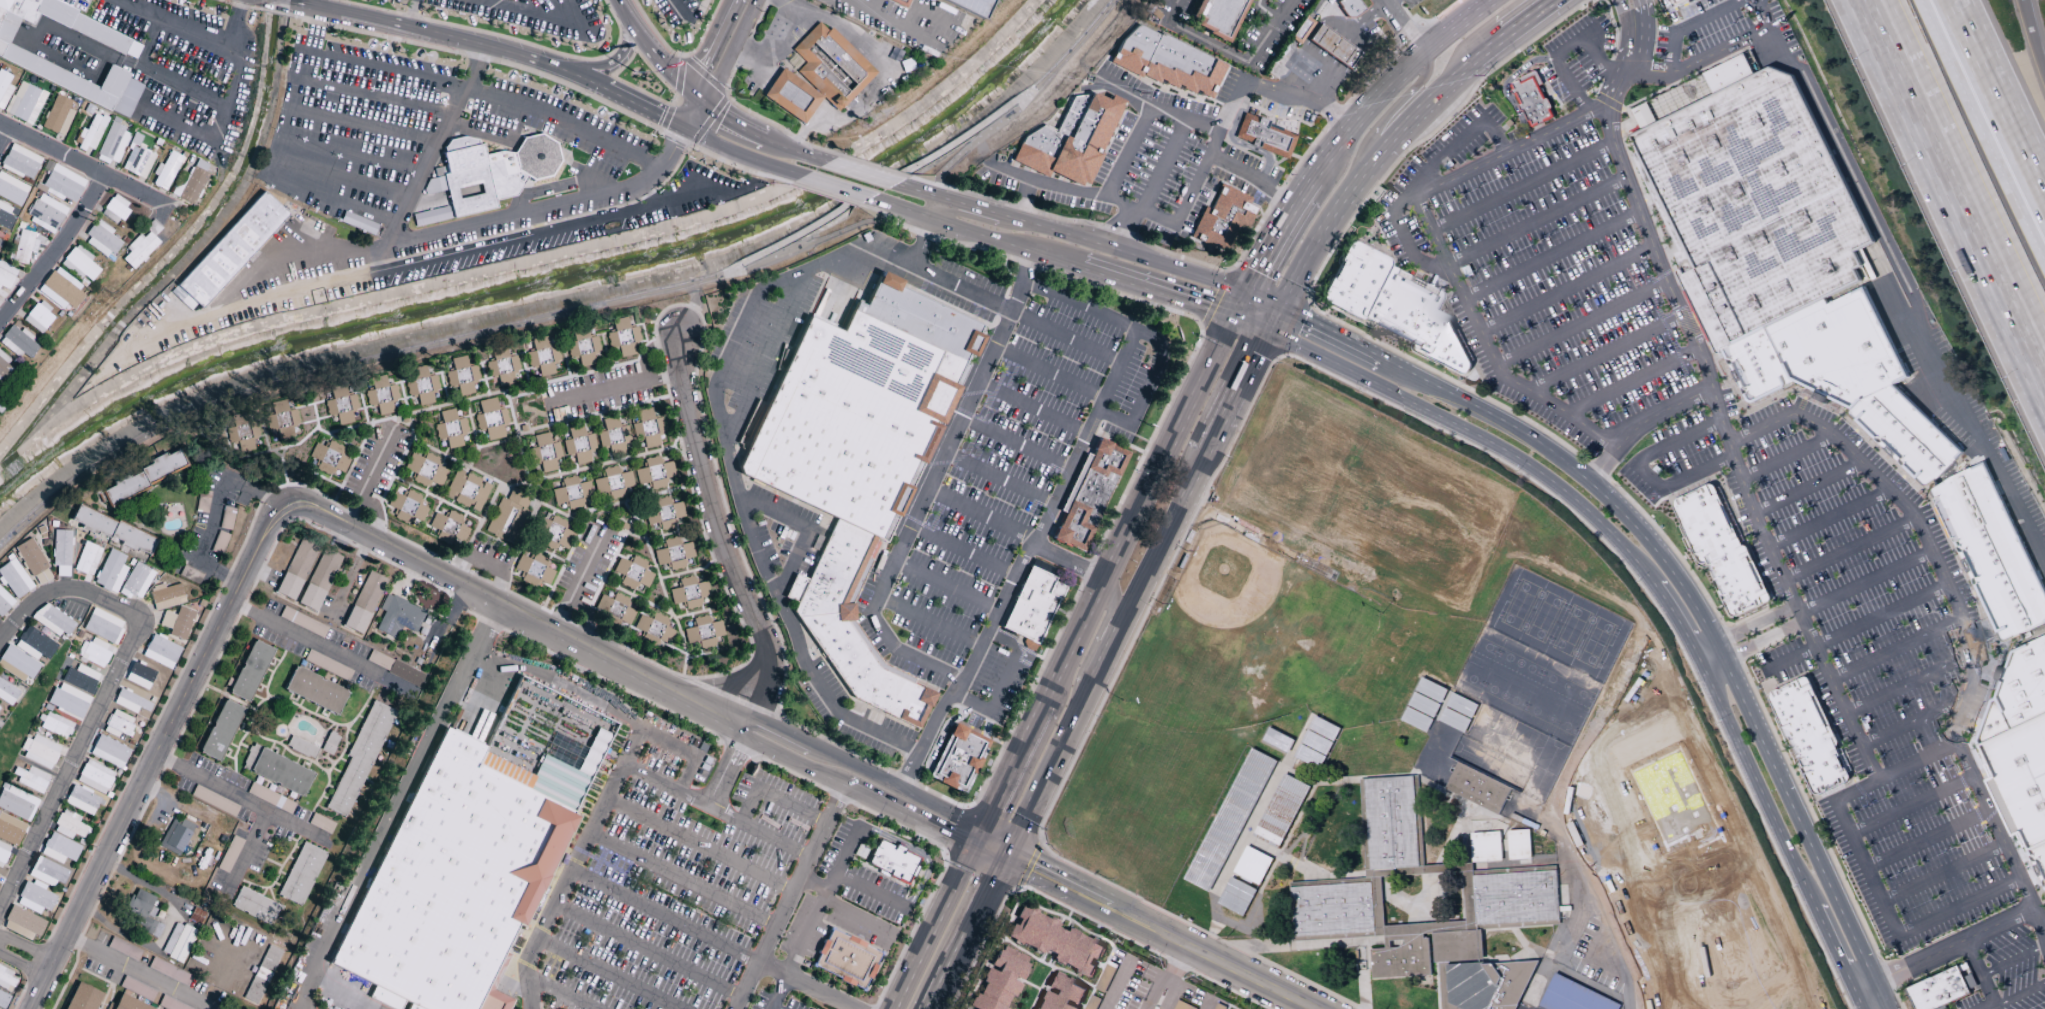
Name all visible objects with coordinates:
road: (286, 0)
road: (61, 1)
building: (1675, 1)
road: (787, 2)
building: (900, 2)
road: (1491, 2)
road: (1385, 3)
road: (317, 4)
building: (7, 6)
road: (536, 6)
road: (674, 6)
building: (980, 7)
building: (25, 8)
road: (1758, 8)
parking lot: (1177, 9)
building: (1350, 10)
road: (1266, 11)
road: (1443, 11)
road: (56, 12)
building: (57, 12)
road: (1669, 14)
road: (412, 15)
building: (1218, 17)
road: (1532, 17)
road: (1364, 22)
road: (50, 23)
road: (1685, 24)
building: (0, 25)
road: (182, 25)
parking lot: (1716, 25)
road: (1455, 29)
road: (1405, 30)
building: (1303, 32)
parking lot: (1269, 34)
building: (101, 35)
road: (1626, 35)
road: (72, 37)
road: (449, 38)
road: (1642, 39)
road: (2034, 39)
road: (151, 41)
road: (858, 44)
road: (1493, 47)
building: (1334, 48)
gas station: (1334, 48)
building: (2, 49)
road: (722, 50)
building: (1136, 52)
road: (744, 53)
road: (1341, 53)
road: (1228, 54)
road: (650, 56)
road: (1697, 61)
road: (591, 66)
building: (830, 66)
building: (1184, 69)
building: (62, 71)
road: (1461, 73)
flagpole: (633, 75)
road: (1506, 86)
building: (4, 88)
road: (608, 91)
road: (2002, 93)
road: (497, 95)
road: (375, 96)
building: (791, 97)
building: (1532, 97)
road: (1299, 98)
building: (25, 103)
road: (722, 103)
road: (1396, 105)
road: (1155, 108)
road: (648, 110)
road: (691, 114)
road: (1415, 115)
building: (1642, 115)
building: (58, 116)
road: (1362, 116)
road: (222, 118)
road: (732, 119)
traffic signals: (684, 128)
road: (372, 130)
road: (1982, 132)
building: (91, 133)
road: (3, 135)
road: (793, 137)
building: (1266, 138)
road: (677, 139)
parking lot: (348, 140)
building: (1072, 142)
road: (434, 143)
road: (970, 144)
building: (113, 145)
road: (797, 150)
road: (744, 151)
road: (1128, 152)
road: (347, 156)
building: (540, 157)
building: (465, 158)
road: (1967, 158)
building: (137, 159)
building: (20, 163)
road: (873, 166)
road: (1163, 166)
road: (83, 167)
building: (166, 171)
building: (440, 171)
road: (891, 172)
building: (506, 174)
road: (864, 174)
road: (339, 177)
road: (910, 177)
road: (1253, 179)
road: (1416, 181)
building: (192, 182)
building: (62, 184)
road: (1194, 184)
road: (1522, 185)
building: (435, 186)
road: (1045, 186)
road: (881, 187)
road: (841, 188)
building: (12, 190)
road: (1307, 190)
building: (471, 191)
road: (1414, 192)
road: (1423, 192)
road: (649, 193)
road: (927, 194)
road: (1951, 194)
road: (827, 196)
road: (978, 197)
road: (839, 199)
building: (1758, 200)
road: (1023, 201)
road: (848, 202)
road: (1297, 205)
road: (861, 206)
road: (977, 208)
road: (905, 209)
building: (115, 210)
building: (45, 213)
building: (6, 216)
building: (432, 216)
road: (1537, 220)
building: (1225, 221)
building: (358, 223)
road: (1329, 223)
road: (951, 224)
road: (461, 227)
road: (1121, 228)
road: (534, 236)
building: (101, 240)
building: (0, 241)
road: (815, 242)
road: (958, 242)
road: (923, 243)
building: (24, 248)
road: (1024, 248)
building: (140, 250)
building: (233, 250)
road: (1123, 252)
road: (54, 253)
road: (1268, 253)
road: (1552, 254)
building: (79, 264)
parking lot: (1563, 274)
building: (6, 276)
road: (1566, 289)
building: (61, 290)
road: (1156, 292)
traffic signals: (1247, 293)
road: (1909, 293)
building: (183, 298)
road: (1262, 299)
building: (1394, 304)
road: (1079, 305)
road: (1240, 305)
traffic signals: (1278, 306)
road: (693, 307)
building: (1706, 309)
road: (577, 310)
road: (1271, 317)
building: (38, 318)
traffic signals: (1234, 318)
road: (1249, 323)
road: (1581, 323)
traffic signals: (1265, 329)
road: (1331, 333)
building: (622, 338)
road: (1065, 339)
building: (927, 341)
building: (18, 343)
building: (1841, 348)
building: (585, 349)
road: (681, 351)
road: (1605, 352)
building: (542, 357)
road: (767, 358)
building: (4, 364)
building: (1758, 365)
building: (501, 369)
road: (1049, 374)
building: (461, 376)
road: (1242, 376)
road: (1631, 380)
building: (419, 387)
road: (614, 389)
road: (1146, 391)
building: (381, 396)
building: (340, 406)
road: (1032, 409)
road: (718, 419)
building: (490, 420)
building: (281, 422)
road: (1640, 423)
building: (847, 425)
building: (450, 429)
building: (647, 429)
road: (1724, 429)
building: (1906, 433)
building: (241, 435)
road: (1474, 435)
building: (613, 437)
road: (1212, 440)
building: (579, 445)
road: (1015, 445)
building: (544, 453)
road: (1786, 456)
building: (328, 458)
road: (1640, 469)
building: (425, 470)
building: (655, 473)
road: (370, 475)
building: (142, 479)
road: (999, 481)
building: (614, 485)
road: (929, 487)
road: (1806, 487)
building: (466, 491)
building: (572, 493)
building: (1090, 495)
road: (218, 503)
park: (1384, 506)
building: (407, 507)
road: (1138, 510)
building: (664, 513)
road: (981, 516)
building: (508, 517)
road: (1827, 517)
building: (226, 518)
building: (91, 521)
building: (447, 528)
road: (805, 531)
road: (1165, 533)
building: (554, 535)
building: (132, 539)
road: (1848, 548)
building: (1721, 549)
building: (1991, 551)
building: (61, 552)
road: (962, 552)
building: (673, 554)
road: (724, 555)
building: (87, 559)
building: (33, 563)
road: (1067, 563)
road: (1018, 567)
building: (325, 568)
building: (534, 568)
building: (296, 570)
building: (111, 572)
building: (632, 573)
building: (190, 574)
road: (226, 576)
road: (581, 578)
building: (14, 579)
building: (136, 581)
road: (1864, 581)
road: (946, 588)
building: (689, 593)
building: (166, 596)
building: (310, 598)
building: (4, 602)
parking lot: (1867, 602)
road: (36, 603)
building: (363, 603)
building: (1035, 605)
building: (613, 607)
building: (398, 617)
road: (1674, 617)
building: (52, 620)
road: (1961, 620)
building: (177, 623)
road: (929, 623)
road: (487, 624)
park: (1557, 624)
building: (650, 625)
road: (1703, 625)
building: (103, 626)
road: (1854, 626)
road: (1743, 627)
building: (852, 628)
road: (1117, 629)
building: (703, 632)
building: (665, 636)
park: (1240, 639)
road: (582, 643)
road: (1751, 644)
building: (34, 645)
road: (318, 645)
road: (1895, 650)
building: (160, 652)
building: (94, 653)
building: (16, 665)
road: (515, 667)
building: (396, 669)
building: (250, 671)
building: (80, 679)
road: (728, 679)
road: (1002, 684)
road: (1907, 684)
building: (2021, 684)
park: (1526, 686)
building: (1432, 690)
building: (315, 691)
building: (7, 693)
road: (615, 697)
building: (68, 701)
building: (130, 702)
building: (1424, 704)
building: (1462, 705)
building: (1417, 719)
building: (1455, 720)
road: (1913, 721)
building: (118, 724)
building: (1990, 724)
building: (56, 726)
building: (1324, 727)
building: (220, 730)
building: (1810, 734)
building: (1278, 739)
road: (83, 740)
building: (1317, 741)
road: (729, 746)
park: (1519, 748)
building: (40, 752)
building: (109, 752)
road: (1056, 752)
building: (1309, 755)
building: (359, 760)
building: (960, 760)
road: (151, 763)
park: (1490, 763)
building: (276, 771)
road: (1009, 772)
building: (95, 777)
road: (1398, 777)
building: (2021, 777)
building: (31, 779)
road: (1753, 779)
road: (667, 781)
building: (1477, 788)
building: (82, 800)
road: (242, 801)
park: (1141, 801)
building: (17, 803)
road: (1910, 804)
road: (723, 809)
building: (1281, 810)
building: (1230, 819)
building: (1523, 820)
road: (935, 821)
building: (1392, 822)
building: (68, 825)
building: (10, 830)
road: (1248, 831)
road: (1303, 833)
building: (175, 836)
road: (1926, 838)
building: (1328, 839)
parking lot: (1926, 839)
traffic signals: (975, 841)
building: (1519, 843)
road: (700, 845)
building: (1486, 846)
road: (990, 848)
building: (59, 849)
road: (1266, 849)
road: (917, 853)
building: (3, 854)
road: (1442, 855)
traffic signals: (1005, 856)
road: (843, 858)
building: (2039, 860)
road: (601, 861)
building: (893, 862)
building: (1253, 864)
road: (1865, 866)
road: (1270, 868)
building: (47, 872)
road: (1386, 872)
road: (1942, 873)
building: (301, 874)
track: (1673, 877)
park: (1674, 879)
road: (683, 881)
building: (454, 887)
road: (871, 891)
road: (792, 893)
building: (1236, 896)
road: (1394, 896)
building: (1516, 897)
building: (34, 898)
building: (255, 906)
building: (1333, 908)
building: (141, 913)
building: (195, 916)
road: (856, 919)
road: (814, 920)
road: (2042, 923)
building: (22, 924)
road: (166, 925)
road: (933, 925)
road: (1383, 930)
road: (1159, 931)
road: (966, 932)
road: (713, 939)
building: (1056, 939)
road: (1522, 942)
building: (1458, 945)
road: (1186, 947)
road: (1942, 948)
road: (1832, 949)
road: (650, 950)
building: (1401, 956)
road: (24, 957)
road: (1435, 959)
building: (846, 960)
road: (2012, 960)
road: (1049, 965)
building: (169, 972)
road: (137, 973)
road: (608, 973)
road: (1977, 973)
building: (263, 975)
road: (1074, 976)
building: (6, 980)
building: (1003, 983)
building: (1484, 983)
road: (1116, 985)
building: (1943, 988)
road: (347, 990)
road: (1362, 990)
road: (780, 993)
building: (1061, 993)
road: (559, 995)
road: (2016, 995)
building: (1573, 996)
building: (80, 997)
road: (1626, 999)
building: (3, 1000)
road: (1856, 1000)
building: (1091, 1002)
road: (1204, 1002)
building: (127, 1004)
road: (1145, 1005)
building: (1181, 1005)
building: (1218, 1006)
parking lot: (1520, 1006)
road: (1163, 1007)
parking lot: (1535, 1008)

